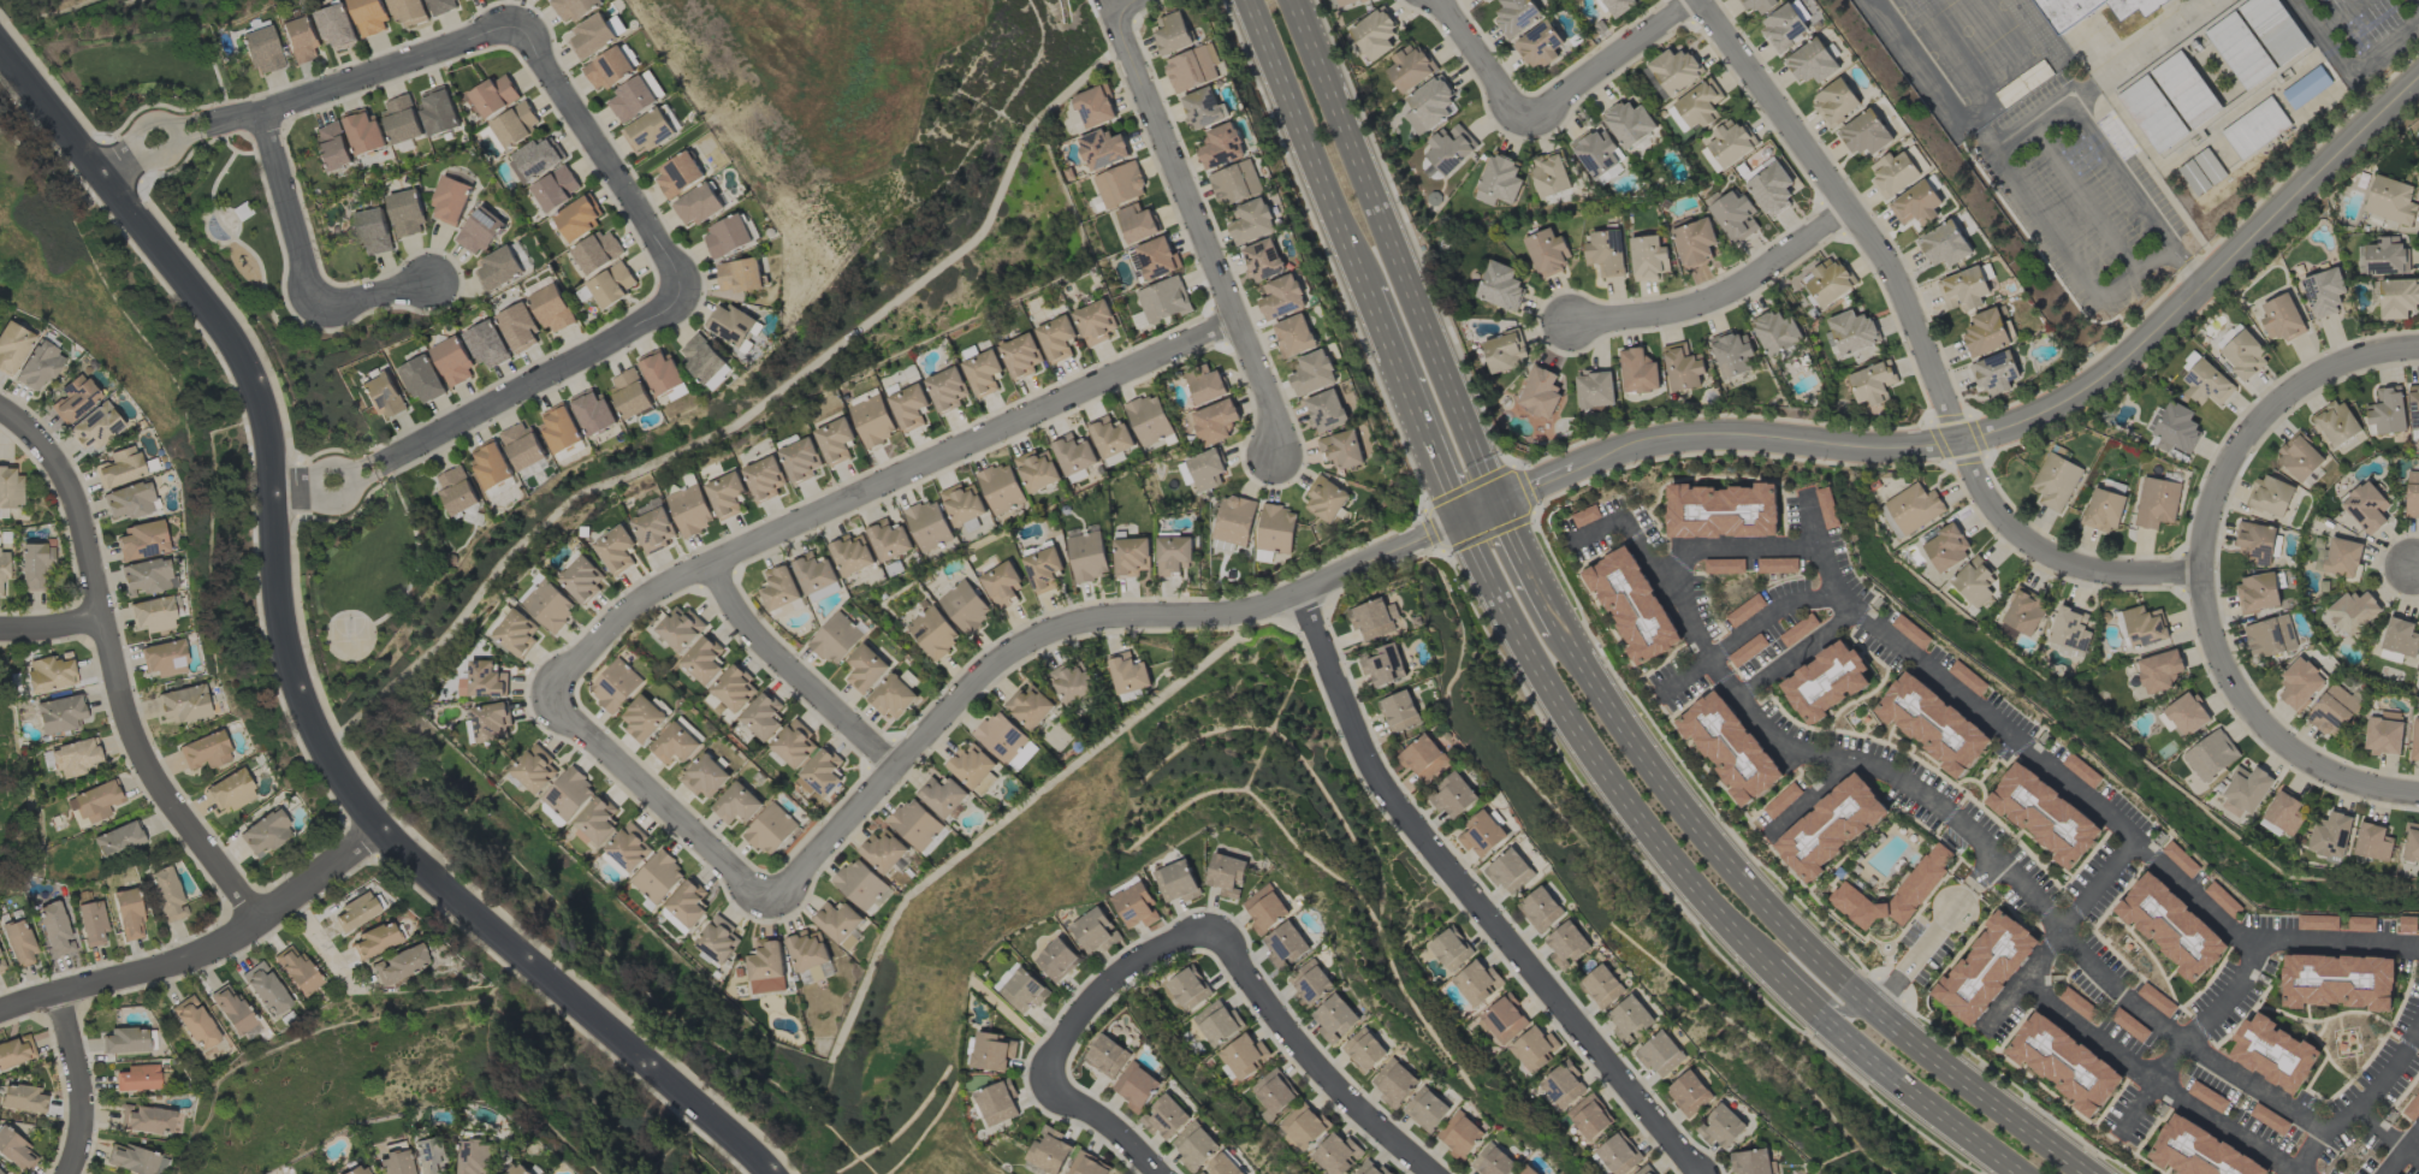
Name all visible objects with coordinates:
building: (1347, 2)
road: (2417, 2)
road: (1121, 5)
building: (1759, 5)
building: (444, 6)
building: (1619, 6)
building: (573, 8)
building: (2083, 10)
building: (409, 12)
building: (1517, 16)
building: (370, 17)
building: (337, 25)
building: (1784, 26)
building: (1172, 34)
building: (1374, 34)
building: (592, 36)
building: (301, 38)
building: (2257, 40)
building: (1540, 46)
building: (262, 51)
building: (1812, 61)
road: (2350, 65)
building: (607, 69)
building: (1192, 69)
building: (1410, 69)
building: (1674, 70)
building: (2306, 88)
building: (494, 95)
road: (302, 100)
building: (630, 100)
building: (1836, 101)
building: (2170, 101)
building: (1430, 106)
building: (1095, 107)
road: (1549, 107)
building: (1695, 107)
building: (1204, 108)
building: (438, 111)
building: (401, 119)
building: (1629, 123)
building: (515, 124)
building: (2255, 128)
building: (362, 131)
building: (648, 131)
building: (1866, 134)
road: (2018, 136)
road: (1303, 142)
building: (331, 146)
building: (1726, 146)
building: (1222, 147)
building: (1102, 148)
park: (35, 149)
building: (1448, 149)
road: (606, 155)
building: (535, 159)
road: (45, 165)
park: (190, 166)
building: (1428, 168)
building: (2200, 172)
building: (1893, 173)
building: (677, 176)
building: (1549, 177)
building: (1499, 180)
building: (1235, 183)
building: (1120, 184)
building: (555, 189)
building: (1772, 189)
road: (2086, 198)
building: (450, 200)
building: (2390, 201)
building: (1916, 204)
building: (696, 206)
building: (407, 213)
road: (291, 214)
building: (1735, 215)
building: (579, 217)
building: (1252, 221)
building: (1136, 223)
road: (1199, 223)
building: (373, 231)
building: (479, 231)
building: (727, 236)
building: (1694, 241)
building: (1945, 244)
building: (597, 251)
road: (1393, 251)
building: (1547, 251)
building: (1606, 253)
building: (2385, 256)
building: (1648, 257)
building: (1154, 259)
building: (1263, 260)
building: (498, 269)
building: (739, 275)
building: (1828, 281)
building: (611, 285)
building: (1500, 286)
building: (1964, 290)
building: (2324, 292)
road: (1724, 296)
building: (1282, 297)
road: (375, 298)
building: (2397, 298)
building: (1163, 300)
building: (552, 308)
building: (2281, 318)
building: (1095, 322)
building: (729, 324)
building: (518, 328)
building: (1852, 332)
building: (1777, 333)
building: (1986, 333)
building: (1296, 336)
building: (1056, 338)
road: (1921, 343)
building: (487, 345)
building: (1832, 345)
building: (12, 346)
building: (1505, 351)
building: (1732, 354)
building: (2243, 354)
building: (1020, 356)
building: (702, 357)
building: (452, 361)
building: (2189, 361)
building: (38, 367)
building: (1683, 367)
building: (1637, 370)
building: (660, 372)
building: (983, 373)
building: (1314, 373)
building: (1996, 373)
building: (721, 378)
building: (422, 379)
building: (1204, 384)
building: (1872, 384)
building: (2207, 384)
building: (947, 390)
building: (1595, 390)
building: (630, 393)
building: (1540, 393)
building: (384, 396)
building: (73, 399)
road: (1409, 403)
building: (908, 408)
road: (485, 409)
building: (2414, 409)
building: (1327, 410)
building: (593, 411)
building: (2387, 411)
building: (871, 417)
building: (1149, 420)
road: (2264, 420)
building: (1215, 422)
building: (2336, 423)
building: (94, 427)
building: (2174, 427)
building: (561, 428)
road: (2014, 428)
building: (1109, 437)
building: (835, 440)
building: (522, 445)
building: (1342, 449)
building: (1073, 453)
building: (2300, 457)
building: (800, 461)
building: (491, 464)
building: (120, 468)
building: (1206, 469)
building: (1037, 470)
building: (1185, 473)
building: (764, 479)
building: (2056, 481)
road: (878, 486)
building: (10, 488)
building: (1001, 488)
building: (457, 490)
building: (725, 494)
building: (2412, 494)
building: (2270, 496)
building: (1326, 498)
building: (128, 502)
building: (2157, 503)
building: (962, 504)
building: (1827, 508)
building: (1914, 508)
building: (2366, 508)
building: (689, 510)
building: (1724, 510)
building: (2103, 510)
road: (1477, 512)
building: (1585, 516)
building: (1234, 520)
road: (1628, 523)
building: (927, 526)
building: (653, 529)
building: (1276, 529)
building: (888, 540)
building: (142, 541)
building: (2255, 541)
building: (1946, 547)
building: (616, 550)
building: (852, 555)
building: (1087, 556)
building: (1131, 556)
building: (1173, 556)
building: (2342, 558)
building: (1777, 565)
building: (4, 567)
building: (35, 567)
road: (1526, 567)
building: (1724, 567)
road: (2415, 567)
building: (1043, 569)
building: (814, 573)
building: (146, 577)
building: (582, 579)
building: (1974, 582)
building: (1002, 583)
building: (779, 588)
building: (2258, 592)
park: (367, 593)
building: (547, 606)
building: (965, 606)
building: (1632, 607)
building: (1745, 610)
building: (2024, 611)
building: (2353, 612)
road: (1772, 613)
building: (153, 615)
building: (1374, 618)
road: (52, 625)
building: (2145, 625)
building: (680, 628)
road: (1069, 630)
building: (1798, 630)
building: (1910, 632)
building: (515, 633)
building: (932, 633)
building: (2069, 634)
building: (2270, 636)
building: (836, 639)
building: (2399, 640)
road: (1800, 656)
building: (164, 658)
building: (702, 660)
road: (294, 665)
building: (1385, 665)
road: (115, 669)
building: (866, 669)
road: (798, 670)
building: (2159, 670)
building: (1127, 672)
building: (49, 674)
building: (1968, 677)
building: (482, 681)
building: (1071, 682)
road: (1690, 682)
building: (1828, 683)
building: (2300, 683)
building: (616, 684)
building: (735, 689)
building: (894, 696)
building: (183, 704)
building: (1030, 706)
building: (2334, 710)
building: (1399, 711)
building: (59, 713)
building: (2187, 715)
building: (763, 716)
building: (642, 718)
building: (1933, 725)
road: (2269, 730)
building: (2383, 731)
building: (1001, 737)
building: (2415, 741)
building: (794, 743)
building: (675, 745)
building: (1730, 748)
building: (204, 751)
building: (2210, 755)
building: (75, 758)
building: (1423, 758)
building: (973, 767)
building: (535, 770)
building: (2081, 770)
building: (820, 773)
building: (706, 776)
road: (2071, 787)
building: (230, 791)
building: (2245, 791)
road: (1812, 793)
building: (568, 794)
building: (1453, 795)
road: (1923, 795)
road: (658, 796)
building: (942, 796)
building: (1781, 800)
building: (94, 801)
building: (737, 804)
building: (2284, 812)
building: (2044, 816)
building: (598, 819)
building: (914, 824)
building: (771, 829)
building: (1832, 830)
building: (265, 834)
building: (1482, 835)
building: (2330, 835)
building: (118, 840)
building: (2373, 842)
building: (2411, 843)
building: (628, 848)
building: (883, 850)
building: (2181, 859)
building: (1511, 871)
building: (1228, 874)
building: (658, 877)
building: (1179, 882)
building: (859, 884)
road: (1694, 885)
building: (1915, 893)
building: (167, 894)
road: (1476, 900)
building: (2223, 900)
building: (687, 903)
building: (1137, 906)
building: (1267, 909)
building: (1542, 909)
building: (356, 912)
building: (129, 914)
building: (674, 920)
building: (91, 923)
building: (2318, 923)
building: (838, 924)
building: (2361, 924)
building: (54, 929)
building: (2170, 930)
building: (1095, 931)
road: (1791, 931)
road: (1934, 933)
road: (2057, 935)
building: (717, 939)
building: (374, 941)
building: (19, 942)
road: (319, 944)
building: (1287, 945)
building: (1567, 945)
road: (204, 948)
building: (1449, 949)
building: (807, 950)
building: (1057, 960)
building: (399, 965)
building: (1, 967)
building: (766, 967)
building: (1985, 968)
building: (297, 970)
road: (1797, 971)
building: (1311, 983)
building: (1477, 983)
road: (1110, 984)
building: (2338, 985)
building: (1603, 986)
building: (266, 989)
building: (1021, 989)
building: (1186, 990)
building: (2156, 1000)
building: (232, 1009)
road: (2215, 1016)
building: (1335, 1019)
building: (1631, 1019)
building: (1504, 1020)
building: (195, 1022)
building: (1217, 1022)
building: (2129, 1025)
road: (2091, 1034)
building: (124, 1040)
building: (1534, 1049)
building: (1365, 1050)
building: (16, 1051)
building: (994, 1051)
building: (1661, 1054)
building: (2275, 1054)
building: (1108, 1056)
building: (1241, 1057)
road: (1315, 1061)
building: (2064, 1065)
building: (137, 1078)
building: (1395, 1083)
road: (76, 1085)
building: (1563, 1085)
building: (1136, 1086)
building: (1274, 1093)
building: (1690, 1093)
building: (2207, 1097)
building: (23, 1098)
road: (2365, 1098)
building: (997, 1102)
building: (2412, 1108)
building: (1427, 1109)
road: (2141, 1109)
building: (1166, 1117)
building: (1589, 1117)
building: (146, 1120)
road: (1107, 1121)
building: (1302, 1127)
building: (1723, 1127)
road: (2227, 1129)
road: (2379, 1131)
building: (1462, 1136)
building: (1196, 1146)
building: (1049, 1150)
building: (16, 1151)
building: (2198, 1151)
road: (2402, 1154)
building: (429, 1155)
building: (1336, 1155)
building: (1618, 1155)
road: (2412, 1156)
building: (475, 1157)
building: (130, 1158)
building: (395, 1160)
building: (1494, 1161)
building: (1753, 1162)
building: (1087, 1164)
building: (1223, 1166)
building: (355, 1169)
building: (520, 1169)
building: (1370, 1169)
building: (1529, 1170)
building: (1646, 1170)
building: (0, 1173)

